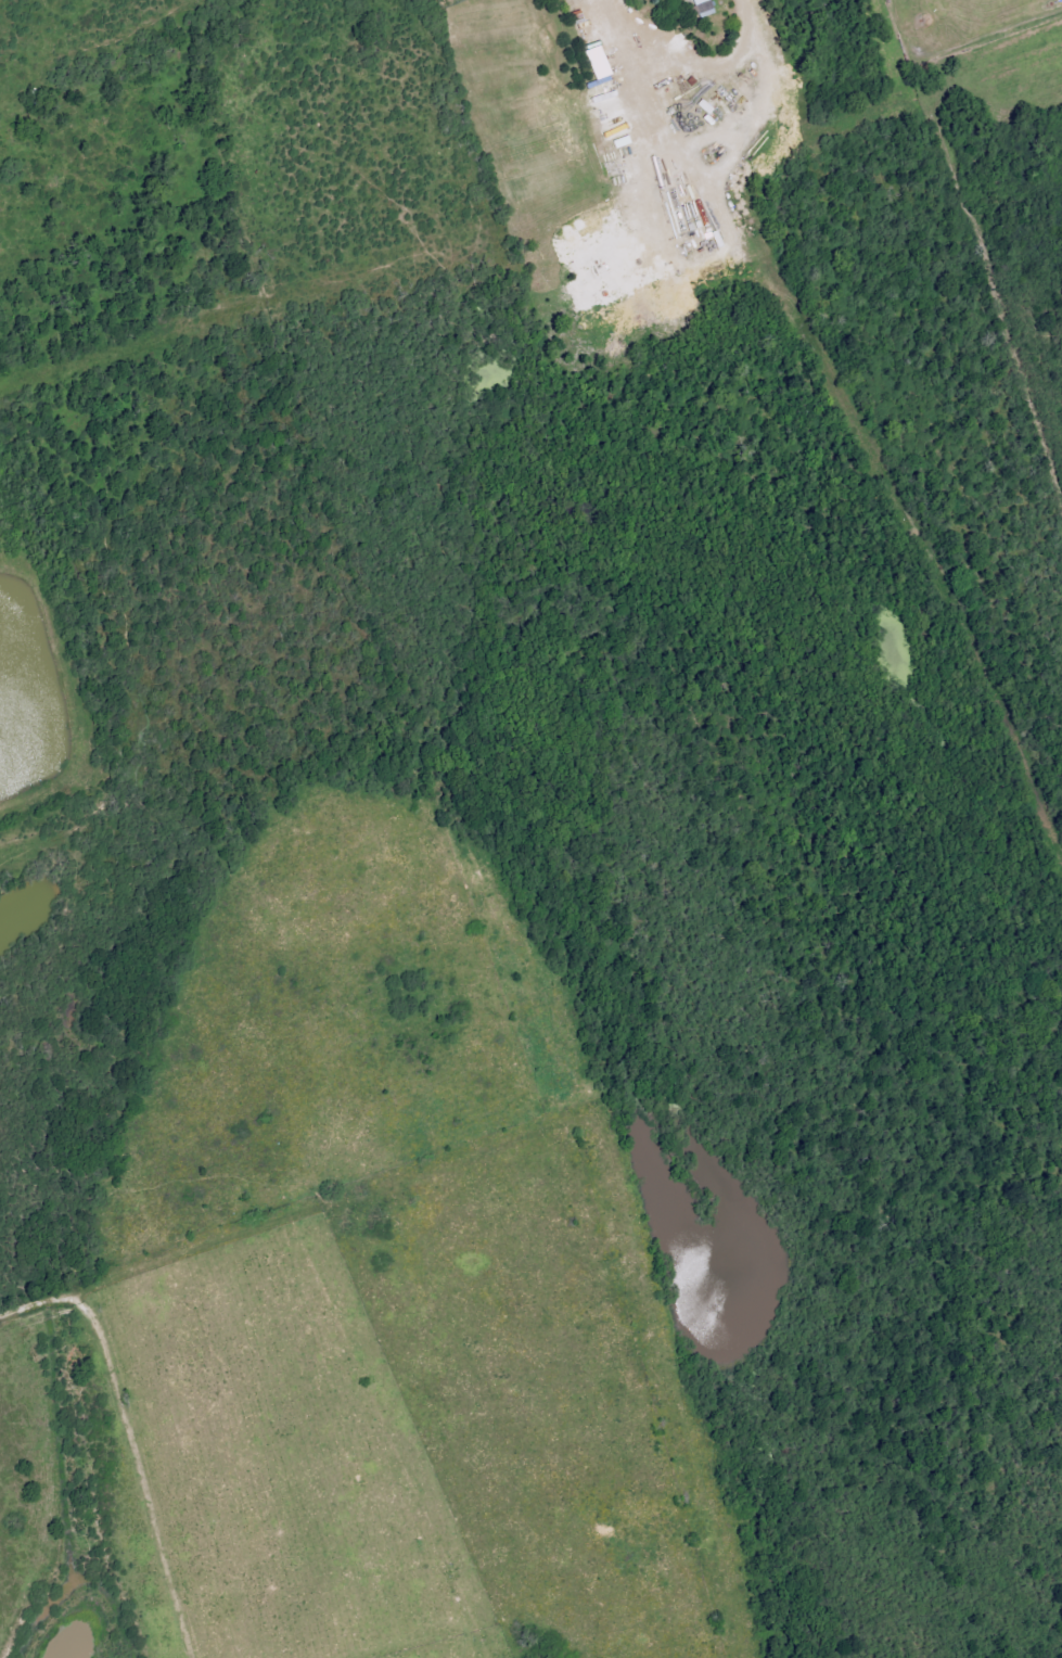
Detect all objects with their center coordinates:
building: (706, 8)
building: (601, 63)

